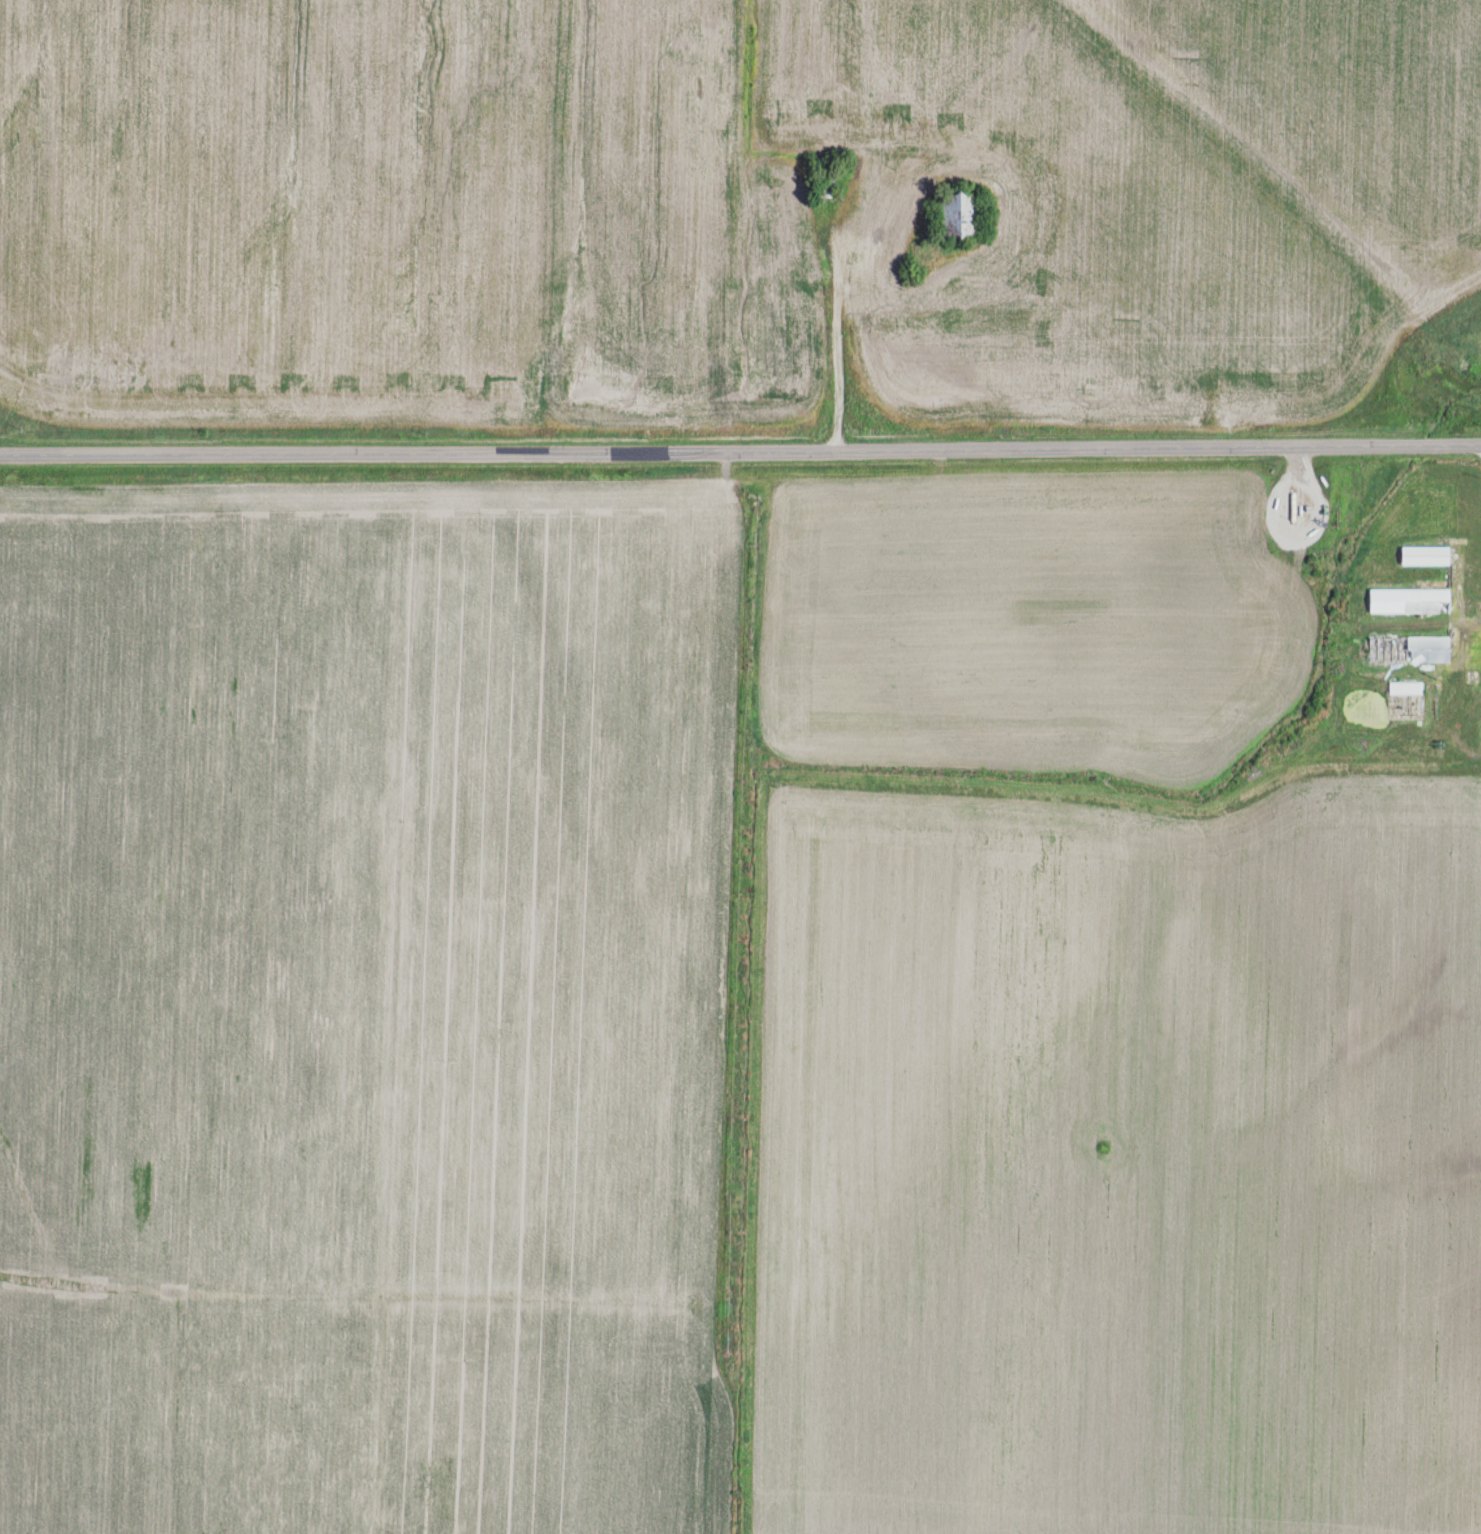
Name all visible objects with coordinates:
building: (824, 185)
building: (956, 214)
road: (834, 362)
road: (740, 453)
building: (1424, 555)
building: (1409, 600)
building: (1410, 649)
building: (1405, 687)
road: (1460, 690)

